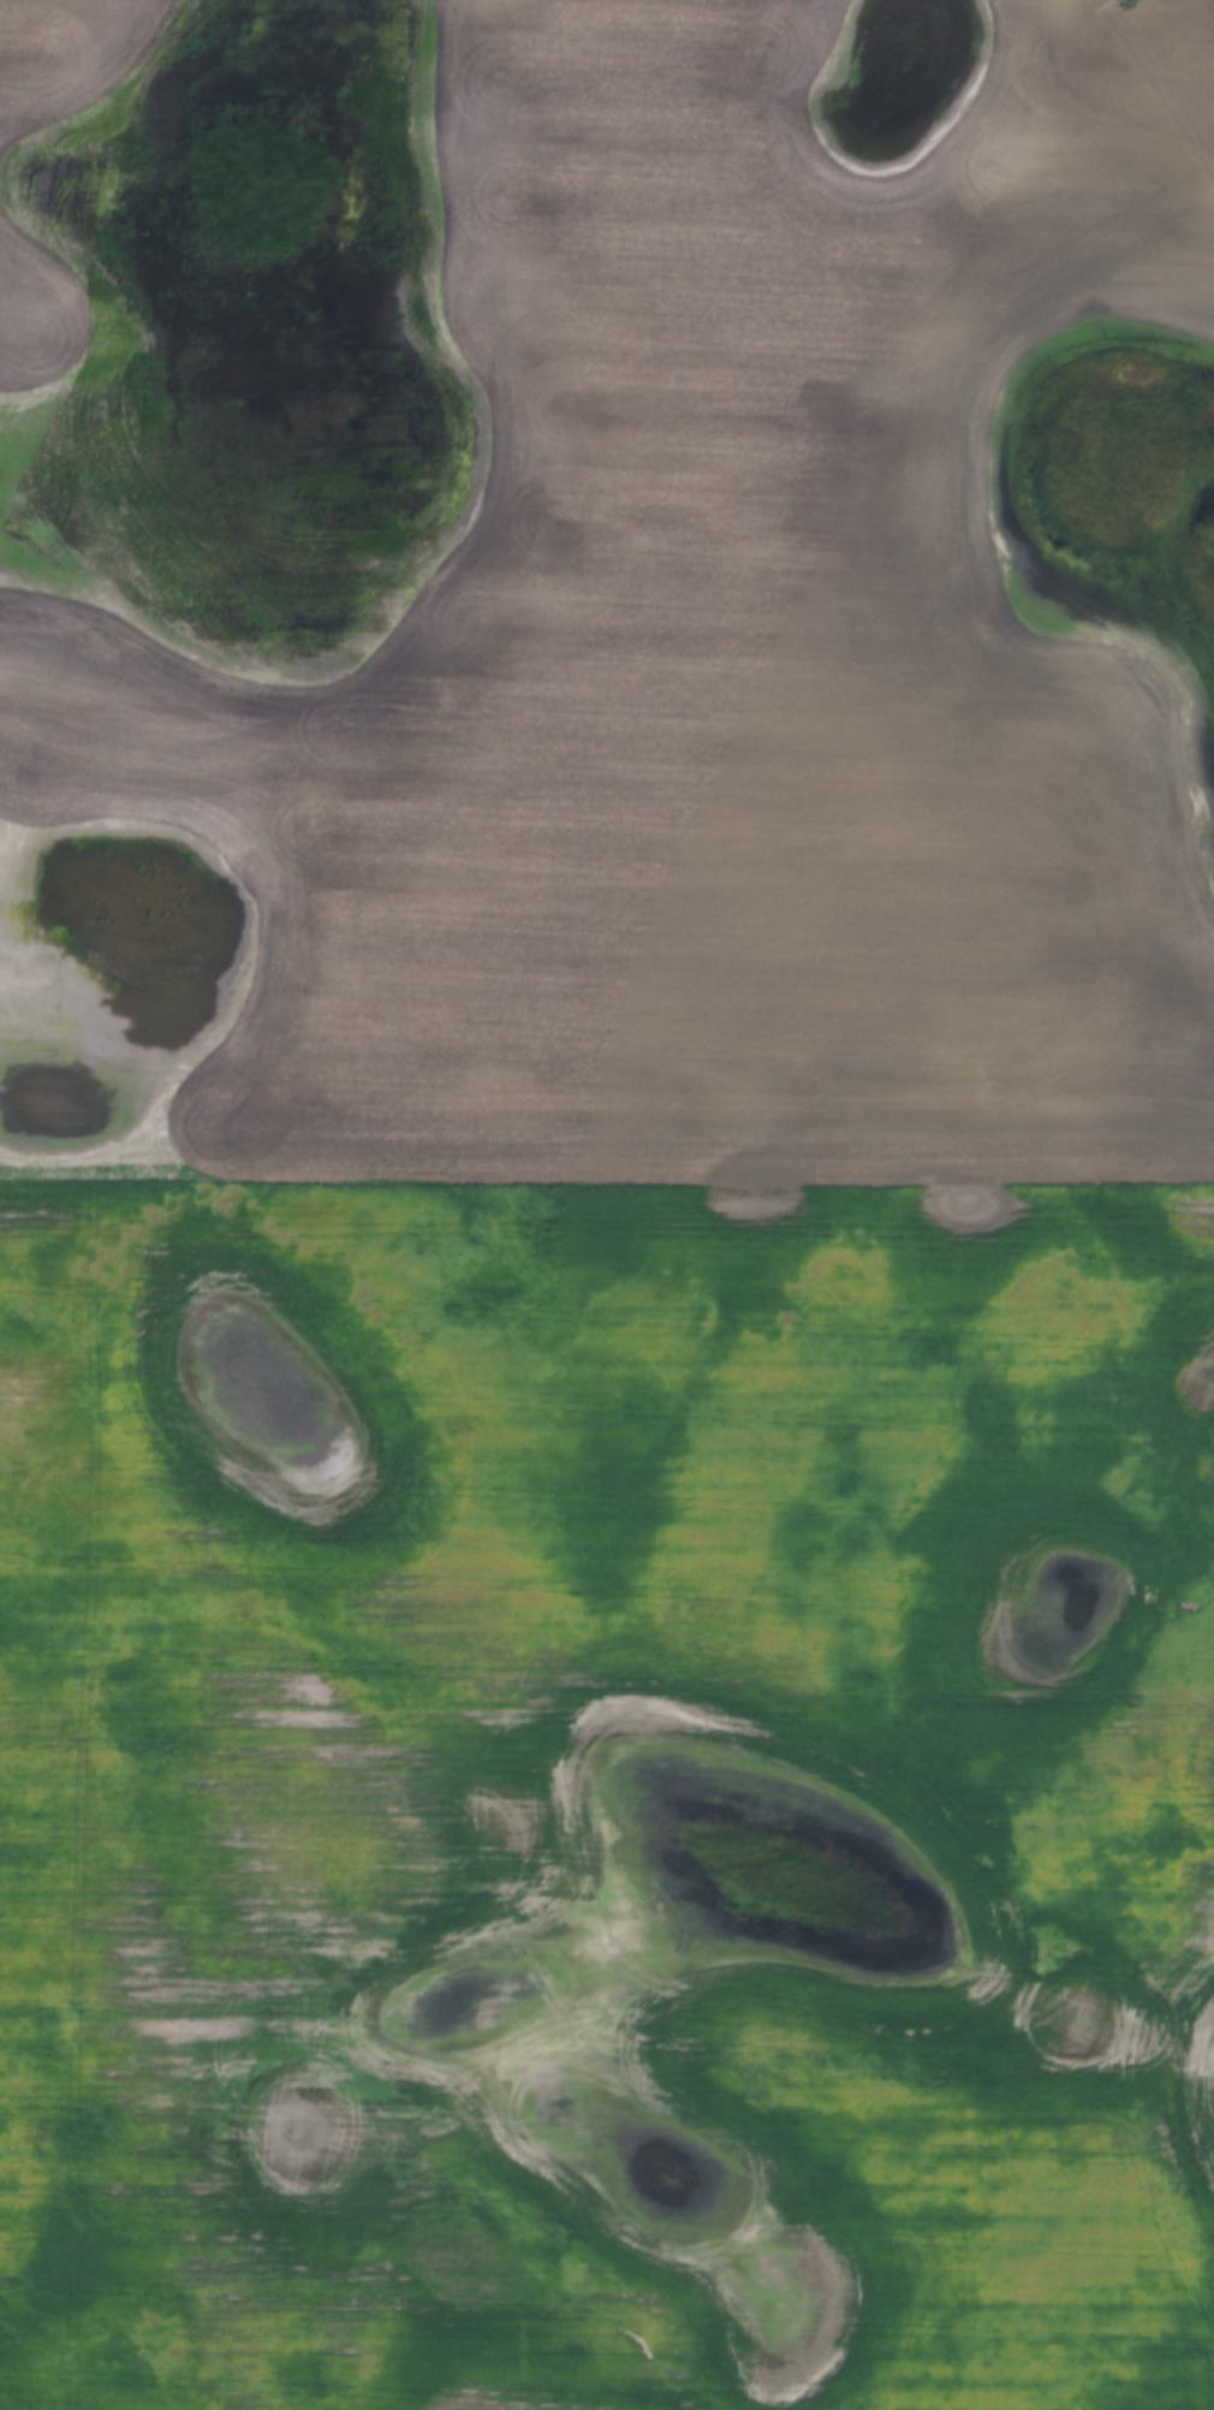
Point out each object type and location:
power tower: (1118, 2)

